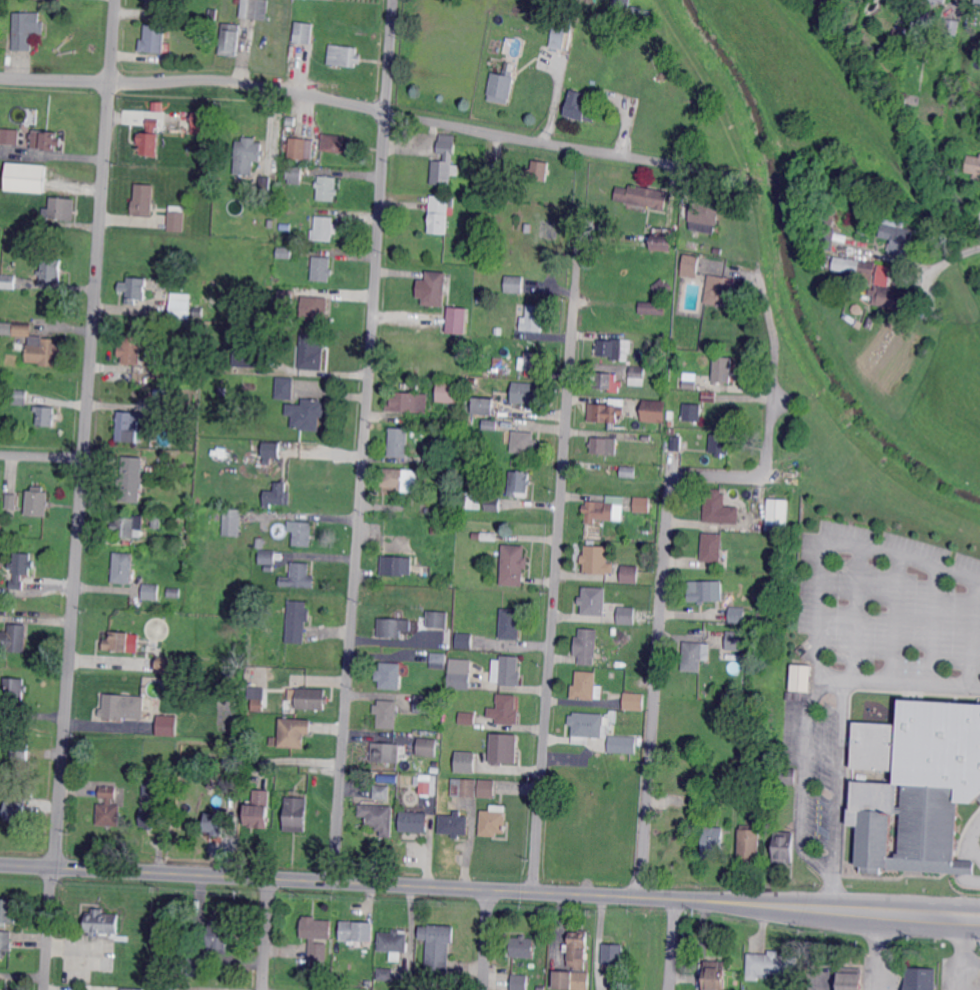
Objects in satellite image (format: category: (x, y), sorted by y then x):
building: (893, 0)
building: (162, 1)
building: (940, 1)
building: (11, 2)
building: (978, 2)
building: (617, 4)
building: (254, 8)
building: (909, 14)
building: (922, 18)
building: (949, 26)
building: (24, 29)
building: (304, 30)
building: (897, 32)
building: (563, 33)
building: (154, 39)
building: (230, 40)
building: (946, 51)
building: (345, 55)
road: (55, 79)
building: (502, 86)
building: (904, 97)
building: (580, 107)
building: (291, 120)
road: (422, 120)
building: (203, 122)
building: (153, 124)
building: (10, 136)
building: (46, 140)
building: (149, 143)
building: (337, 143)
building: (298, 149)
road: (53, 153)
building: (247, 154)
building: (446, 160)
building: (974, 165)
building: (488, 166)
building: (539, 170)
building: (295, 174)
building: (26, 176)
building: (264, 183)
building: (327, 188)
building: (644, 196)
building: (144, 199)
building: (61, 207)
building: (439, 214)
building: (706, 215)
building: (176, 218)
building: (524, 220)
building: (285, 226)
building: (827, 226)
building: (517, 227)
road: (973, 227)
building: (324, 229)
building: (863, 229)
building: (640, 231)
building: (899, 236)
building: (292, 241)
building: (664, 242)
building: (684, 245)
building: (465, 249)
building: (285, 252)
road: (950, 256)
building: (689, 265)
building: (321, 268)
building: (52, 269)
building: (856, 269)
building: (882, 274)
building: (9, 281)
building: (515, 284)
building: (664, 287)
building: (435, 288)
building: (134, 289)
building: (720, 290)
building: (286, 298)
building: (480, 298)
building: (891, 298)
building: (180, 306)
building: (652, 307)
building: (314, 308)
building: (198, 312)
building: (535, 319)
building: (457, 321)
building: (499, 330)
building: (35, 344)
building: (131, 349)
building: (616, 349)
building: (311, 352)
building: (245, 354)
building: (531, 361)
building: (162, 367)
building: (501, 369)
building: (510, 370)
building: (724, 370)
building: (638, 376)
building: (608, 381)
building: (692, 381)
building: (249, 388)
building: (285, 388)
building: (222, 391)
building: (448, 392)
building: (527, 392)
building: (711, 396)
building: (18, 398)
building: (403, 401)
building: (160, 404)
building: (484, 404)
building: (608, 411)
building: (655, 411)
building: (693, 412)
building: (187, 413)
building: (307, 414)
building: (46, 415)
building: (470, 419)
building: (459, 420)
building: (129, 424)
building: (490, 424)
road: (86, 433)
building: (452, 436)
building: (648, 437)
road: (365, 440)
building: (524, 441)
building: (677, 441)
building: (398, 442)
building: (721, 444)
building: (605, 445)
building: (270, 449)
road: (42, 456)
building: (432, 459)
building: (266, 461)
building: (172, 466)
building: (630, 471)
building: (132, 479)
building: (402, 479)
building: (520, 484)
building: (278, 495)
building: (436, 496)
building: (473, 500)
building: (12, 501)
building: (37, 502)
building: (493, 504)
building: (642, 505)
building: (721, 509)
building: (443, 510)
building: (604, 510)
building: (778, 513)
building: (157, 520)
building: (232, 522)
building: (417, 522)
building: (129, 526)
building: (301, 532)
building: (490, 536)
building: (184, 537)
road: (825, 537)
building: (876, 538)
building: (261, 543)
road: (669, 544)
building: (713, 547)
building: (270, 556)
building: (598, 561)
road: (556, 562)
building: (514, 564)
building: (397, 565)
building: (124, 567)
building: (21, 568)
building: (781, 568)
building: (268, 569)
building: (631, 574)
building: (299, 575)
building: (152, 591)
building: (705, 591)
building: (175, 592)
building: (594, 602)
building: (738, 614)
building: (627, 616)
building: (438, 620)
building: (297, 621)
building: (512, 624)
building: (393, 627)
building: (616, 631)
building: (14, 638)
building: (448, 639)
building: (736, 639)
building: (471, 640)
building: (117, 641)
building: (587, 646)
building: (693, 657)
building: (439, 660)
building: (166, 664)
building: (176, 668)
building: (507, 670)
building: (230, 674)
building: (459, 674)
building: (389, 675)
building: (613, 675)
building: (801, 679)
road: (911, 679)
building: (176, 682)
building: (585, 686)
building: (14, 690)
building: (311, 699)
building: (634, 700)
building: (425, 704)
building: (258, 705)
building: (122, 706)
building: (506, 710)
building: (385, 714)
building: (626, 716)
building: (467, 718)
building: (165, 724)
building: (588, 724)
building: (438, 726)
building: (152, 730)
building: (294, 733)
building: (640, 741)
building: (623, 743)
building: (426, 747)
building: (504, 749)
building: (21, 751)
building: (386, 752)
building: (466, 762)
building: (697, 763)
building: (434, 764)
building: (584, 764)
road: (837, 769)
building: (134, 773)
building: (362, 774)
building: (767, 775)
building: (786, 776)
road: (803, 776)
building: (221, 781)
building: (433, 781)
building: (229, 784)
building: (151, 785)
building: (717, 786)
building: (916, 786)
building: (461, 788)
building: (487, 788)
building: (381, 791)
building: (979, 797)
building: (360, 801)
building: (108, 807)
building: (259, 811)
building: (16, 812)
building: (296, 814)
building: (151, 817)
building: (378, 818)
building: (494, 819)
building: (415, 821)
building: (215, 824)
building: (455, 824)
building: (674, 825)
road: (968, 836)
building: (714, 843)
building: (750, 844)
building: (784, 848)
road: (831, 887)
road: (490, 890)
building: (9, 910)
building: (100, 923)
road: (48, 928)
building: (358, 931)
road: (267, 934)
building: (219, 937)
building: (750, 937)
building: (5, 940)
road: (486, 940)
building: (313, 941)
building: (395, 943)
road: (673, 944)
road: (961, 945)
building: (522, 947)
building: (439, 949)
road: (875, 952)
building: (614, 956)
building: (17, 959)
building: (103, 963)
building: (574, 963)
building: (770, 965)
building: (199, 967)
building: (386, 974)
building: (716, 975)
building: (920, 978)
building: (848, 979)
building: (520, 982)
building: (368, 984)
building: (168, 986)
building: (128, 988)
building: (419, 988)
building: (2, 989)

